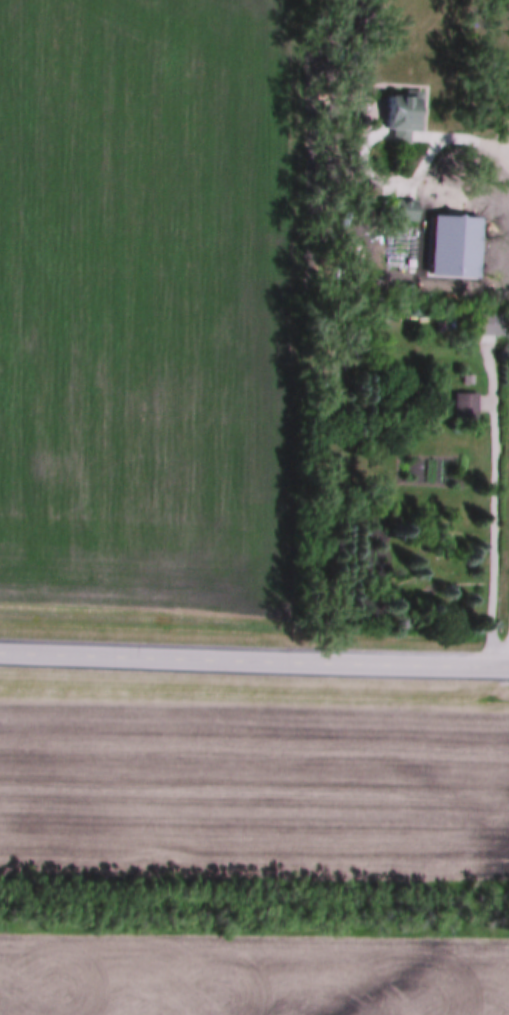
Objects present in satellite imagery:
building: (401, 115)
road: (448, 140)
building: (398, 208)
crop: (146, 304)
building: (440, 323)
building: (490, 323)
building: (465, 377)
building: (462, 403)
road: (496, 533)
road: (254, 663)
crop: (255, 785)
crop: (250, 978)

